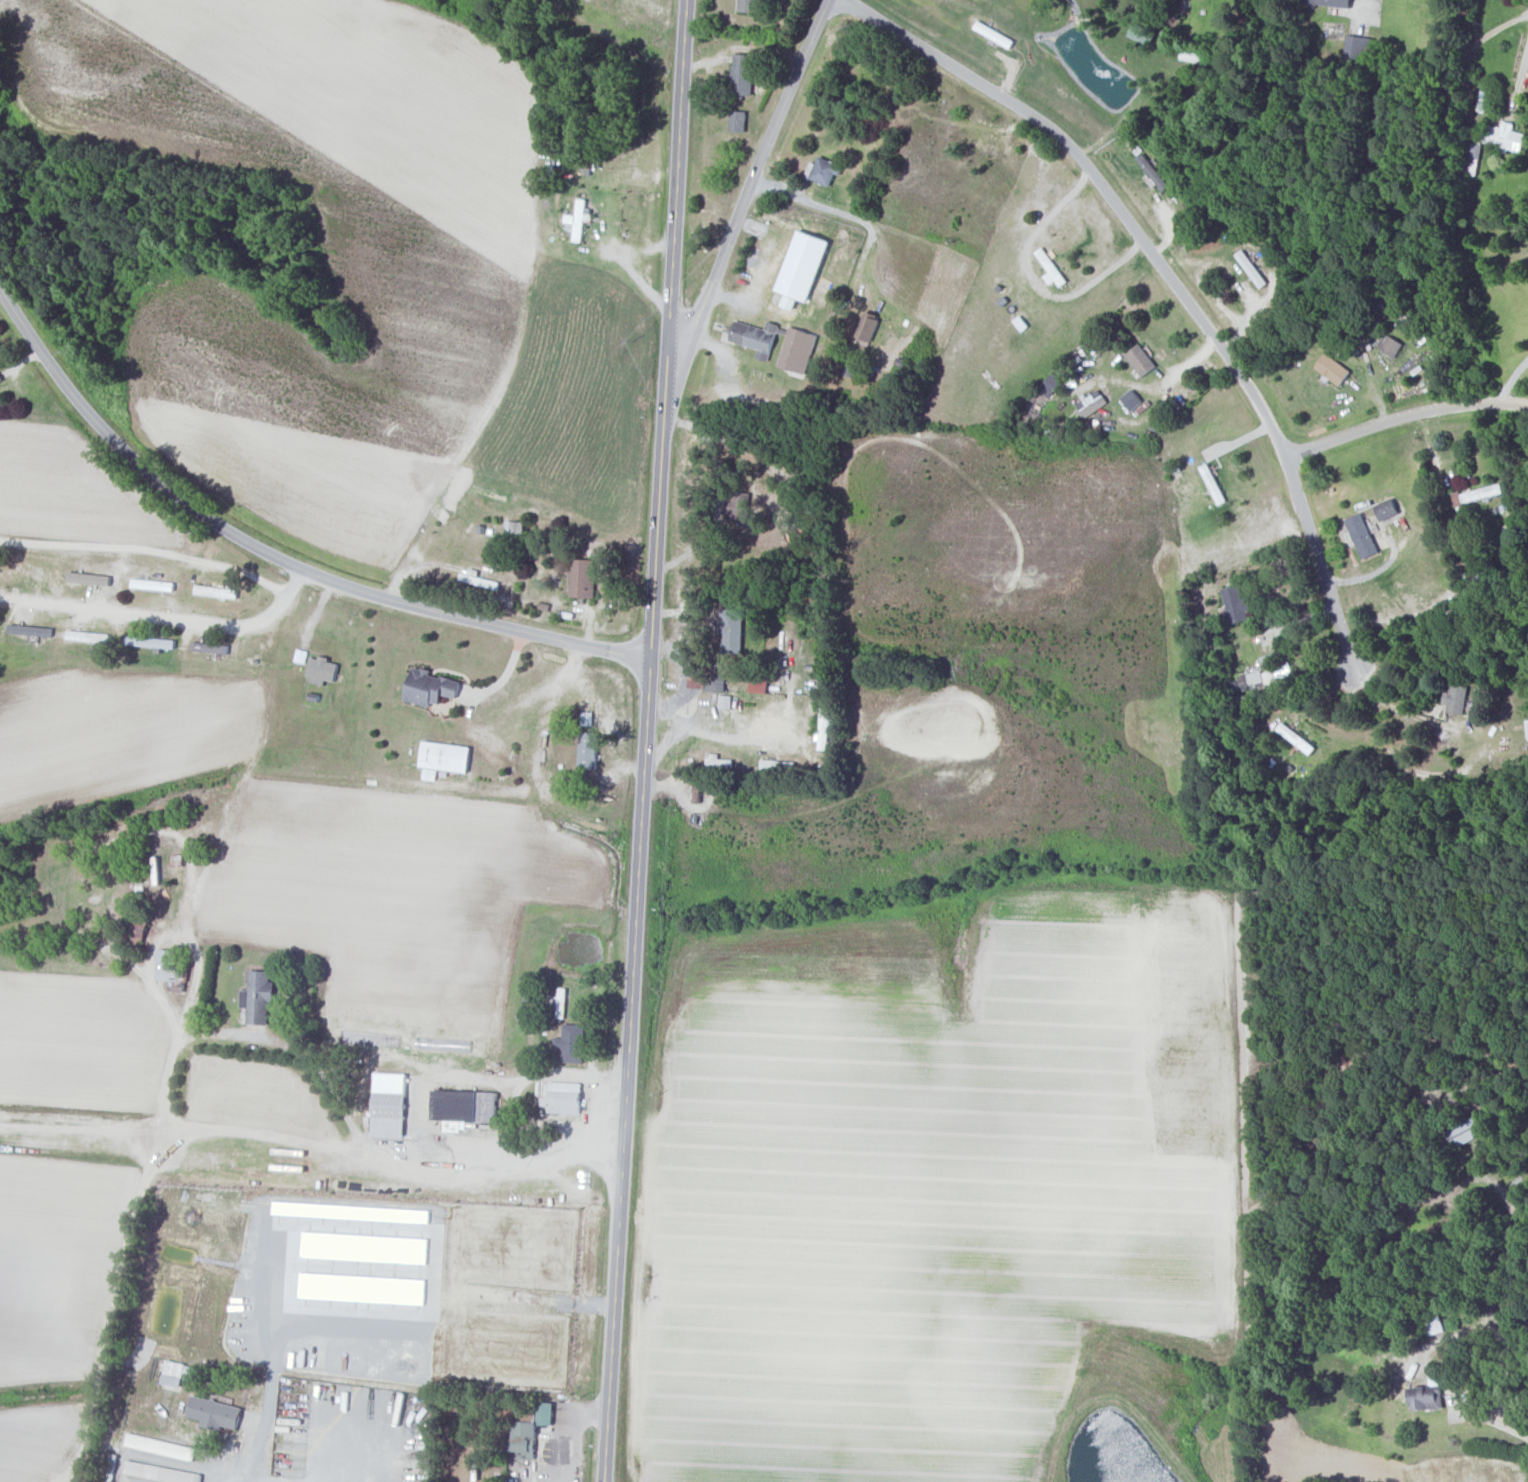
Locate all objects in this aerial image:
building: (1331, 3)
building: (748, 5)
building: (1141, 33)
building: (1358, 49)
building: (742, 74)
road: (1521, 76)
building: (738, 121)
building: (1504, 136)
building: (1472, 158)
building: (823, 171)
building: (1153, 172)
road: (677, 192)
road: (748, 192)
road: (843, 213)
building: (577, 221)
building: (1051, 269)
building: (1252, 269)
road: (1170, 277)
road: (1032, 280)
building: (868, 327)
building: (755, 337)
building: (1391, 345)
building: (797, 350)
building: (1141, 360)
building: (1333, 369)
road: (1511, 378)
building: (0, 380)
building: (1132, 400)
building: (1092, 403)
road: (1404, 415)
building: (1478, 494)
building: (1387, 509)
building: (1362, 536)
road: (145, 550)
road: (273, 557)
building: (88, 578)
building: (582, 578)
road: (280, 597)
building: (1237, 605)
road: (132, 616)
building: (30, 630)
building: (732, 631)
building: (150, 642)
road: (685, 666)
building: (322, 671)
building: (1283, 674)
building: (1262, 678)
building: (718, 679)
building: (759, 687)
building: (430, 688)
building: (1457, 699)
road: (1398, 708)
road: (683, 727)
building: (1527, 729)
road: (738, 736)
building: (588, 751)
building: (445, 756)
building: (718, 761)
building: (778, 766)
road: (633, 932)
road: (173, 936)
building: (258, 996)
building: (559, 1002)
building: (572, 1043)
road: (294, 1049)
road: (481, 1078)
building: (389, 1104)
building: (465, 1105)
road: (560, 1121)
road: (598, 1123)
road: (508, 1125)
building: (1462, 1132)
road: (313, 1139)
road: (123, 1259)
road: (269, 1369)
building: (1428, 1395)
building: (215, 1412)
building: (546, 1413)
road: (1495, 1420)
building: (523, 1440)
building: (159, 1446)
road: (157, 1457)
road: (319, 1470)
building: (158, 1472)
road: (125, 1480)

